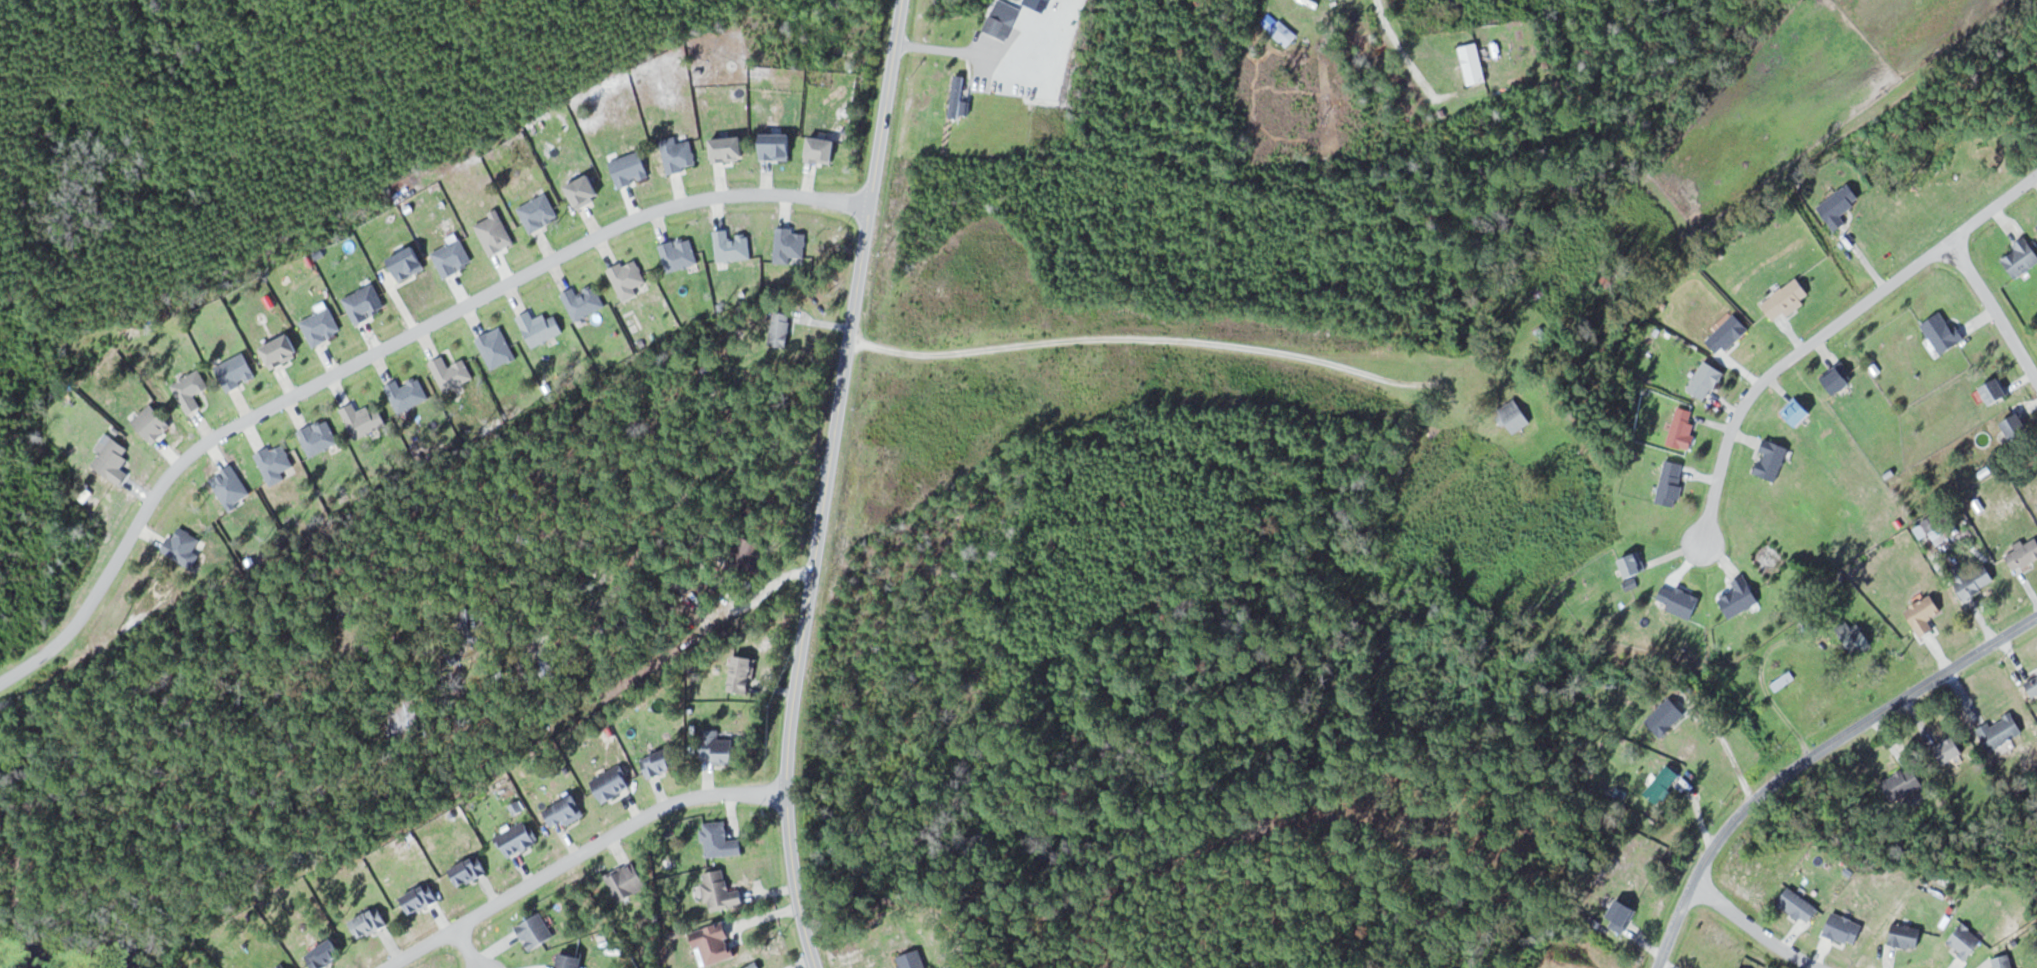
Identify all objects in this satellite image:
building: (1284, 33)
road: (1401, 49)
building: (1473, 62)
building: (957, 96)
crop: (1789, 111)
building: (1840, 205)
building: (2022, 257)
building: (1786, 299)
road: (1994, 309)
building: (780, 329)
road: (1827, 330)
building: (1943, 332)
building: (1728, 335)
road: (1128, 337)
road: (381, 347)
building: (1838, 379)
building: (1706, 380)
building: (1996, 391)
building: (1798, 412)
building: (1515, 415)
building: (2017, 426)
building: (1683, 429)
building: (1772, 460)
building: (1672, 483)
road: (828, 484)
road: (669, 514)
building: (2025, 553)
building: (750, 557)
building: (1634, 566)
building: (1974, 580)
building: (1740, 597)
building: (1924, 615)
building: (469, 624)
building: (1855, 636)
building: (742, 674)
building: (2032, 685)
building: (405, 717)
building: (1666, 717)
building: (2001, 731)
building: (717, 748)
building: (1950, 749)
road: (1810, 757)
building: (660, 762)
building: (612, 783)
building: (1903, 783)
building: (1663, 785)
building: (564, 812)
building: (516, 839)
road: (574, 855)
building: (469, 871)
building: (720, 892)
building: (420, 899)
building: (1799, 906)
building: (1621, 917)
building: (369, 923)
road: (1754, 929)
building: (535, 932)
building: (1907, 936)
building: (1966, 941)
road: (465, 947)
building: (325, 955)
building: (913, 960)
building: (569, 961)
building: (2004, 962)
building: (751, 965)

